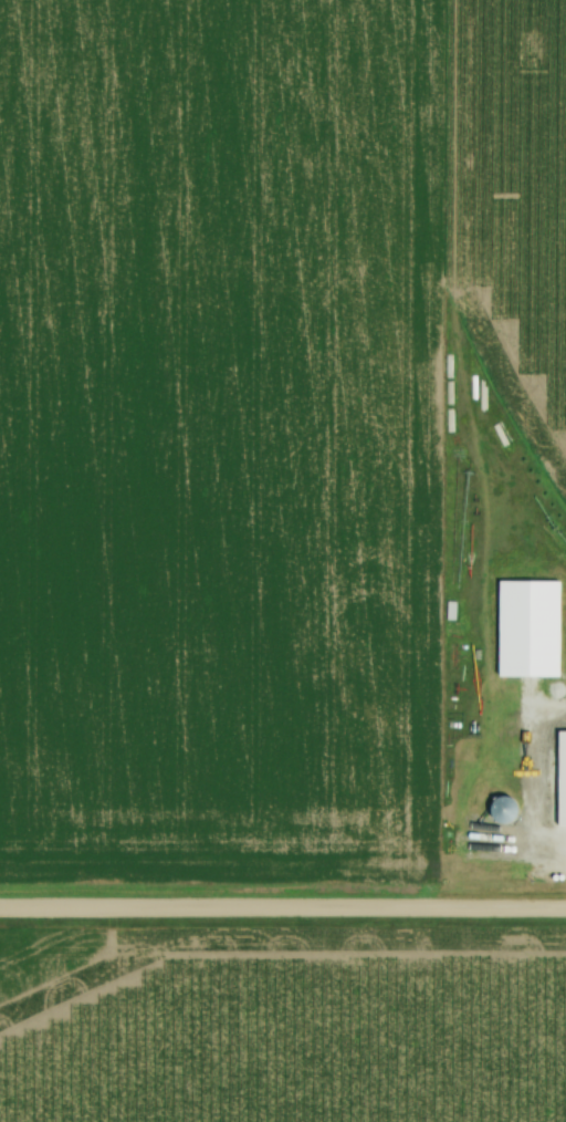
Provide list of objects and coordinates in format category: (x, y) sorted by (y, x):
road: (283, 913)

